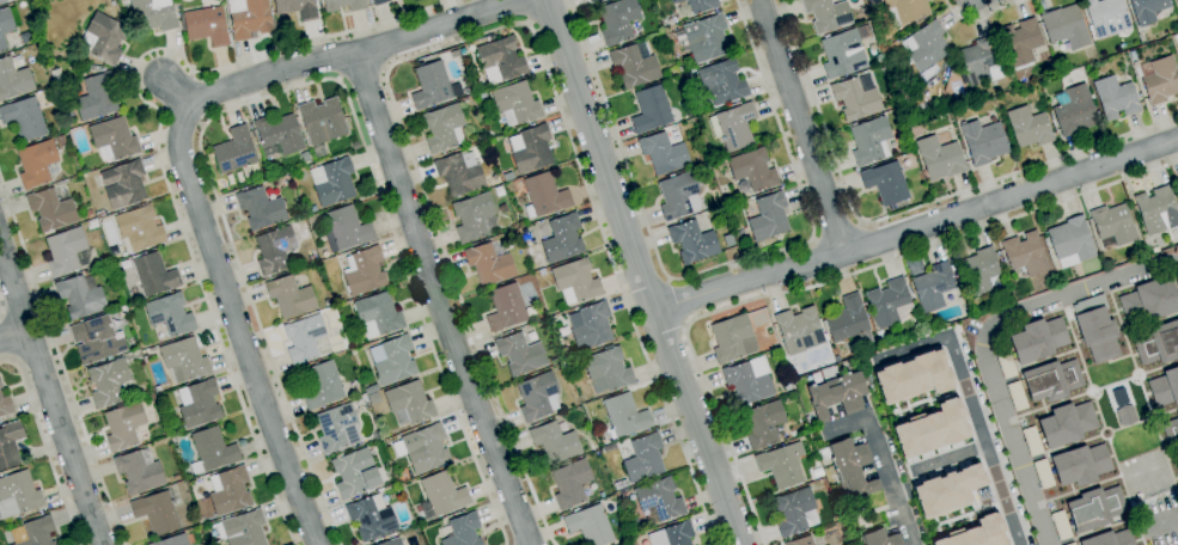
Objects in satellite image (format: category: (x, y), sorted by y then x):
building: (14, 0)
building: (2, 1)
building: (379, 1)
building: (593, 1)
building: (676, 1)
building: (1177, 1)
building: (22, 4)
building: (342, 5)
building: (701, 5)
building: (297, 8)
building: (905, 11)
building: (1149, 11)
road: (523, 12)
building: (153, 14)
building: (826, 14)
building: (1106, 17)
building: (249, 18)
road: (982, 18)
building: (618, 20)
building: (206, 26)
building: (1066, 26)
building: (5, 27)
road: (480, 35)
building: (25, 37)
building: (1141, 37)
building: (1176, 37)
building: (103, 38)
building: (703, 38)
building: (1020, 42)
building: (926, 45)
building: (462, 51)
building: (454, 54)
building: (842, 54)
road: (335, 55)
building: (500, 60)
building: (979, 62)
building: (634, 66)
building: (92, 68)
building: (672, 72)
road: (362, 74)
building: (927, 74)
building: (56, 76)
building: (13, 80)
building: (1160, 80)
building: (721, 82)
building: (432, 85)
road: (292, 88)
building: (481, 94)
building: (96, 97)
building: (1092, 97)
building: (1115, 97)
building: (464, 99)
building: (855, 99)
building: (515, 104)
building: (651, 110)
building: (1074, 110)
building: (24, 118)
building: (322, 121)
building: (733, 127)
road: (799, 127)
building: (1029, 127)
building: (442, 128)
building: (277, 135)
building: (112, 139)
road: (158, 140)
building: (61, 141)
building: (869, 141)
building: (983, 141)
building: (354, 145)
building: (531, 148)
building: (234, 151)
building: (319, 151)
building: (663, 153)
building: (305, 157)
building: (939, 158)
building: (36, 164)
building: (752, 169)
building: (459, 173)
building: (508, 177)
building: (517, 177)
building: (332, 182)
building: (1177, 182)
building: (61, 183)
building: (886, 183)
building: (123, 184)
building: (544, 195)
building: (679, 195)
building: (260, 208)
building: (51, 209)
road: (907, 210)
building: (1156, 210)
building: (88, 214)
building: (99, 214)
building: (768, 216)
building: (474, 218)
building: (92, 223)
building: (1112, 226)
road: (916, 227)
building: (140, 228)
building: (346, 229)
road: (836, 231)
building: (1143, 234)
building: (562, 239)
building: (728, 240)
building: (692, 241)
building: (1070, 241)
building: (275, 250)
building: (1176, 250)
building: (68, 252)
building: (114, 252)
building: (123, 253)
building: (1025, 253)
building: (489, 263)
building: (115, 265)
road: (719, 267)
building: (978, 270)
building: (364, 271)
building: (542, 272)
road: (640, 272)
building: (153, 274)
building: (575, 281)
road: (822, 282)
building: (933, 287)
building: (81, 295)
building: (289, 296)
road: (438, 299)
building: (1149, 301)
road: (677, 302)
building: (889, 304)
building: (507, 308)
building: (379, 312)
building: (170, 313)
building: (553, 318)
building: (847, 319)
road: (237, 326)
building: (591, 326)
building: (1095, 329)
building: (768, 330)
building: (799, 330)
building: (563, 331)
building: (879, 335)
road: (13, 336)
building: (306, 338)
building: (96, 339)
building: (732, 339)
building: (1037, 339)
road: (987, 341)
building: (881, 342)
road: (6, 343)
building: (1158, 343)
road: (1127, 345)
building: (152, 349)
building: (520, 354)
building: (556, 357)
road: (61, 360)
building: (183, 360)
building: (392, 360)
road: (1080, 361)
building: (1006, 365)
building: (562, 367)
building: (606, 369)
building: (566, 374)
building: (911, 376)
building: (1051, 380)
building: (108, 382)
building: (746, 384)
building: (0, 385)
building: (322, 385)
building: (786, 385)
building: (869, 386)
building: (157, 388)
building: (1165, 388)
building: (371, 390)
road: (1091, 390)
building: (837, 396)
building: (1017, 396)
road: (48, 397)
building: (537, 397)
building: (152, 398)
building: (360, 399)
building: (199, 403)
building: (409, 403)
road: (969, 404)
building: (5, 406)
road: (1167, 411)
building: (1125, 415)
building: (1177, 415)
building: (624, 416)
building: (808, 421)
road: (1148, 423)
building: (764, 424)
building: (1067, 424)
building: (123, 425)
road: (1128, 425)
building: (337, 428)
building: (929, 429)
building: (1171, 433)
road: (1100, 437)
building: (1032, 441)
building: (10, 442)
building: (554, 443)
road: (45, 446)
building: (423, 448)
road: (1060, 448)
building: (212, 451)
building: (643, 458)
road: (948, 458)
road: (1165, 458)
road: (884, 460)
building: (782, 465)
building: (1080, 465)
building: (1177, 467)
building: (849, 469)
building: (139, 470)
building: (354, 473)
building: (1043, 473)
building: (570, 483)
building: (946, 490)
building: (230, 491)
road: (1125, 491)
building: (587, 492)
building: (18, 495)
building: (602, 495)
building: (441, 496)
building: (658, 501)
building: (1095, 508)
building: (155, 512)
building: (794, 512)
building: (371, 518)
parking lot: (1159, 520)
road: (1161, 521)
building: (590, 525)
building: (1061, 526)
building: (403, 527)
building: (243, 528)
building: (462, 531)
building: (38, 532)
building: (976, 533)
building: (672, 534)
building: (879, 538)
building: (1110, 539)
building: (171, 540)
building: (392, 541)
building: (801, 541)
building: (1072, 544)

